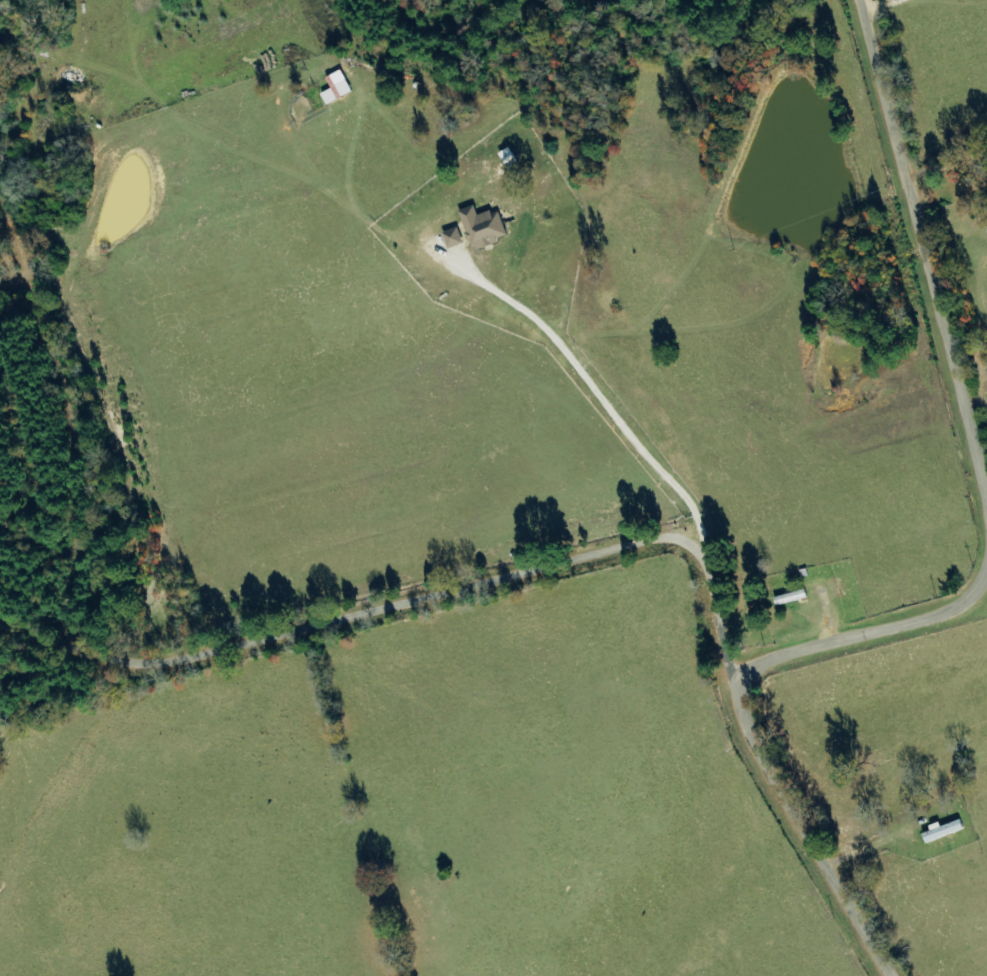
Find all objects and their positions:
building: (339, 88)
building: (485, 227)
building: (455, 238)
road: (921, 247)
road: (574, 560)
building: (792, 598)
road: (865, 637)

